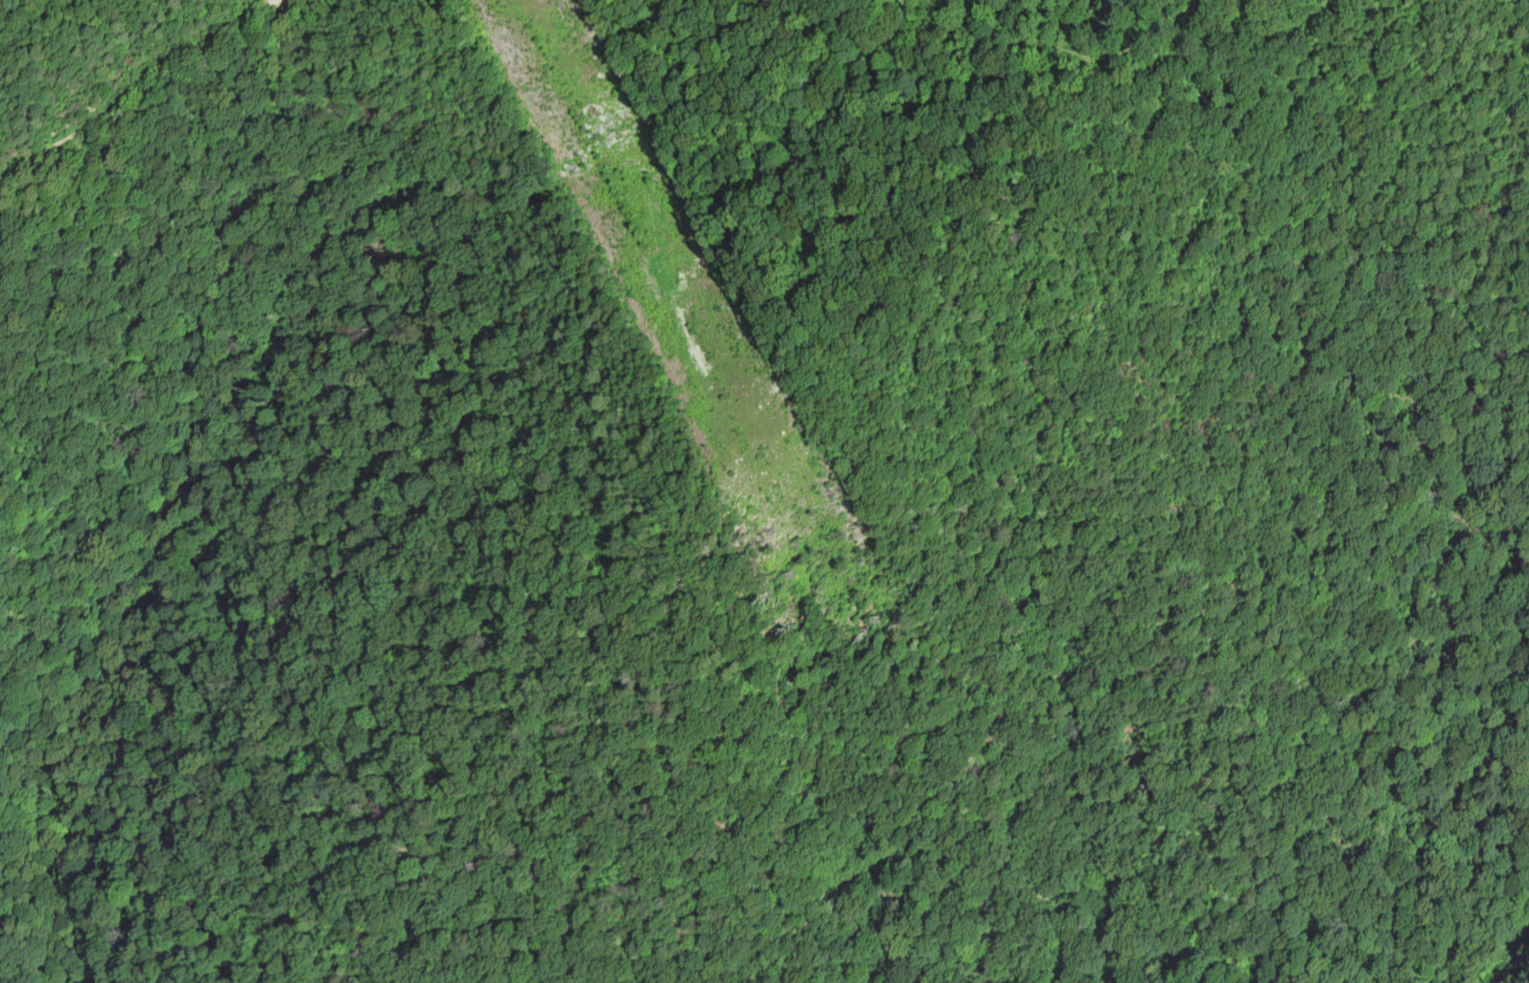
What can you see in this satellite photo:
road: (110, 80)

